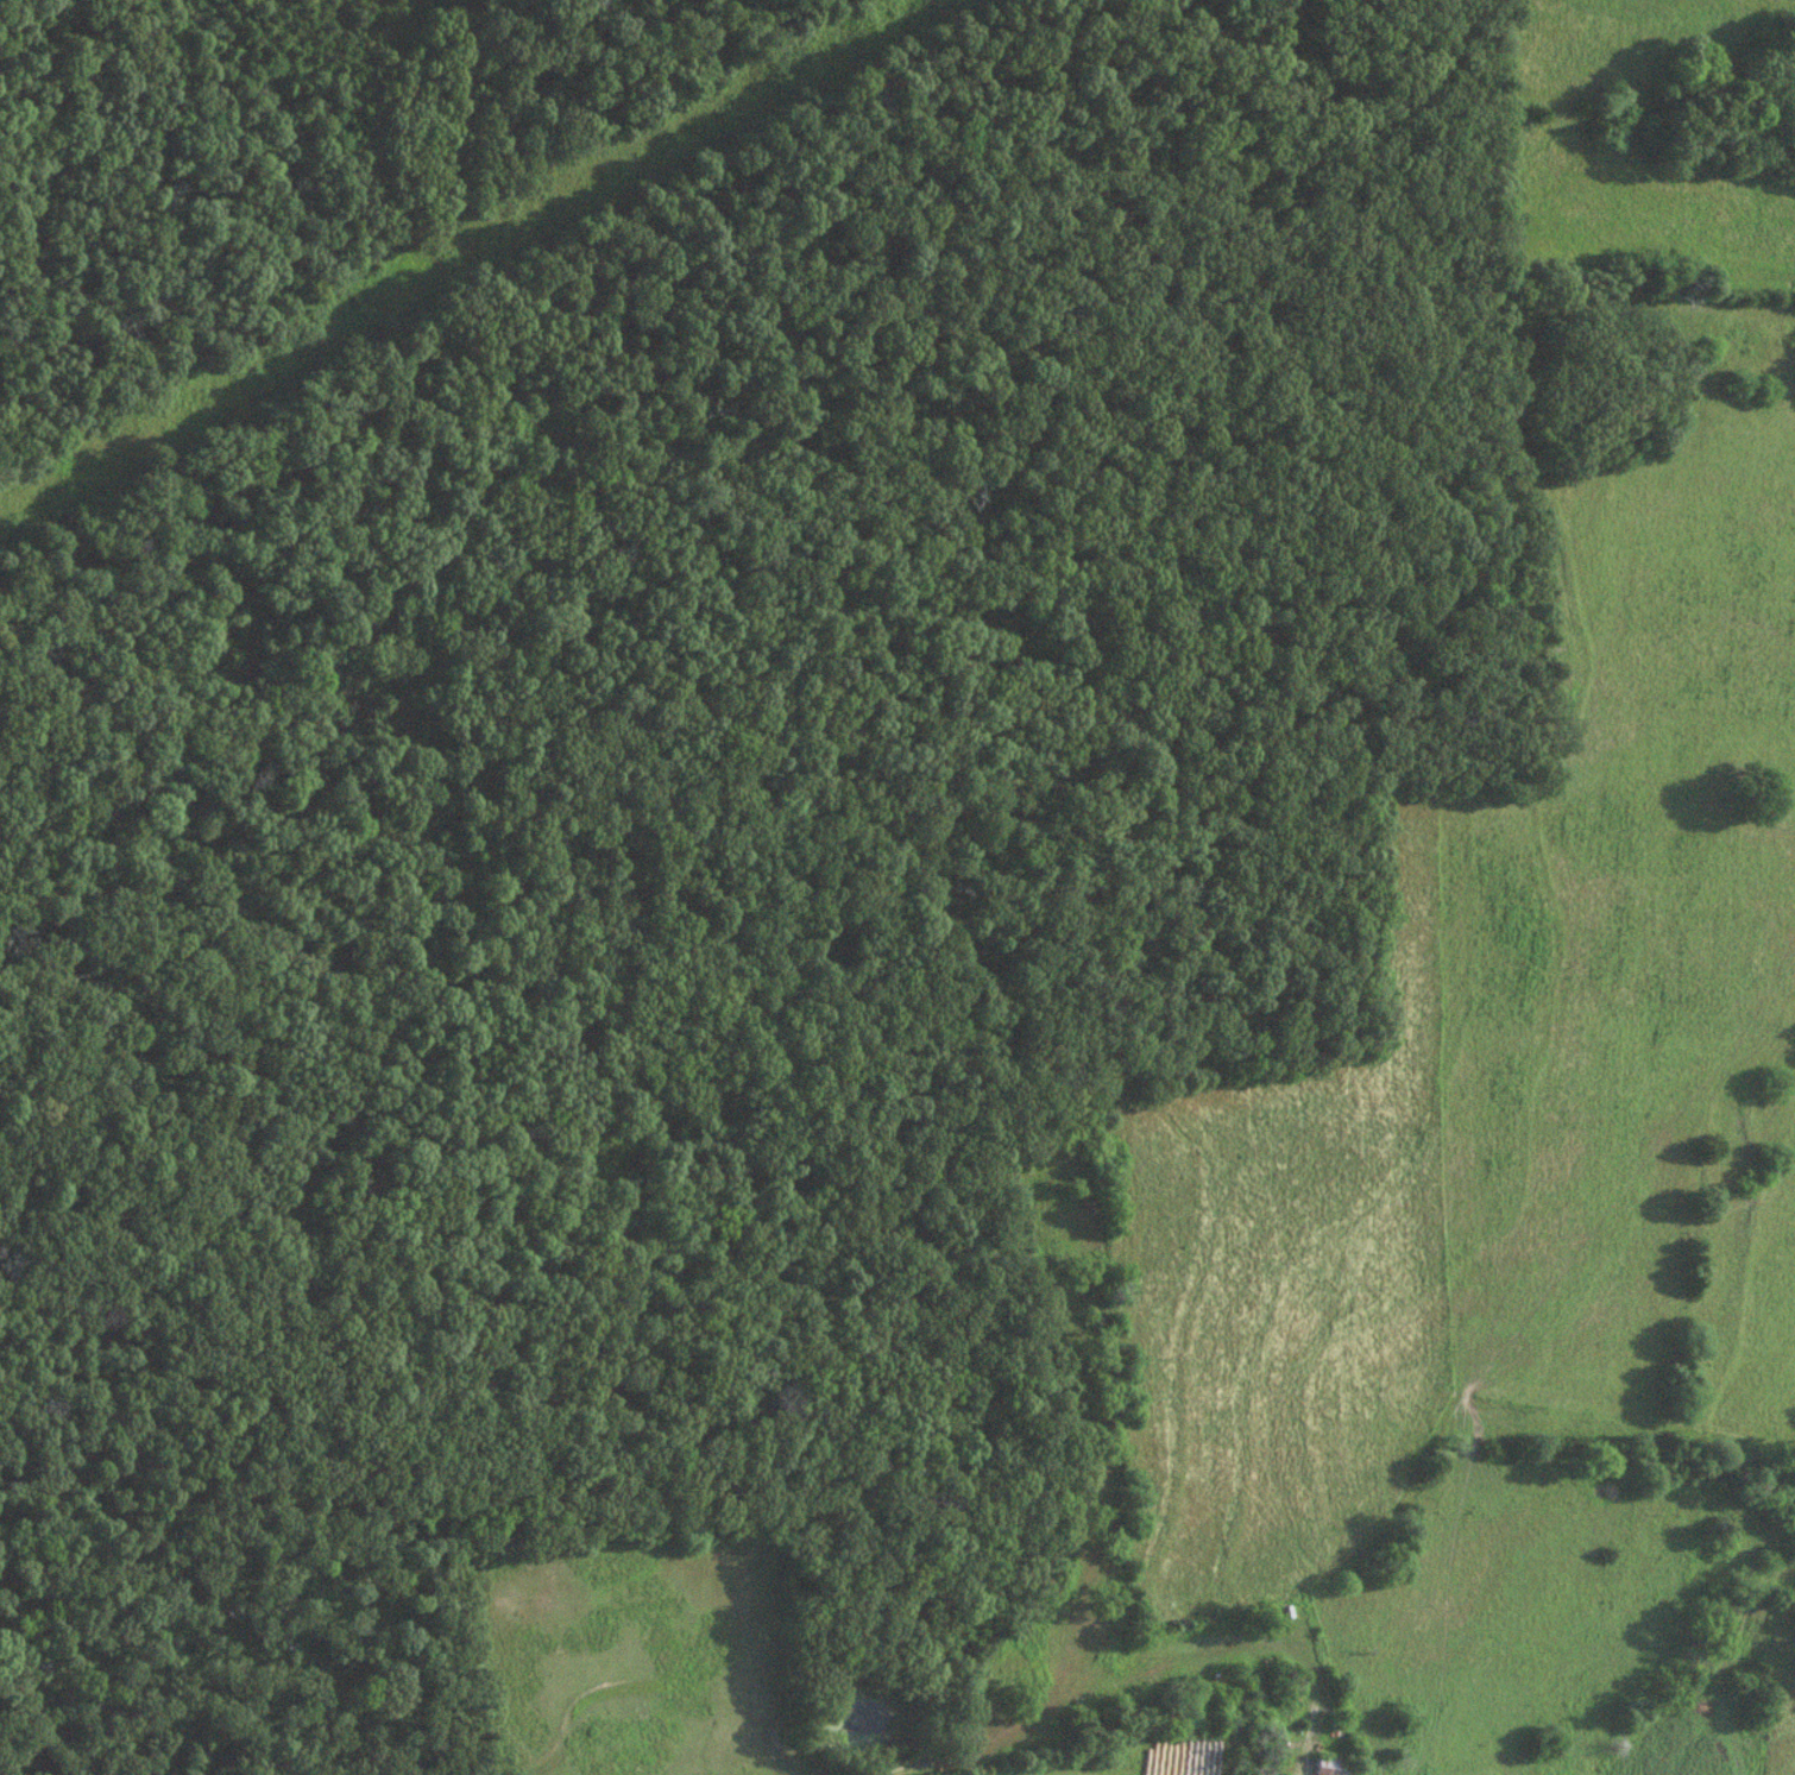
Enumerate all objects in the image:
building: (1328, 1768)

